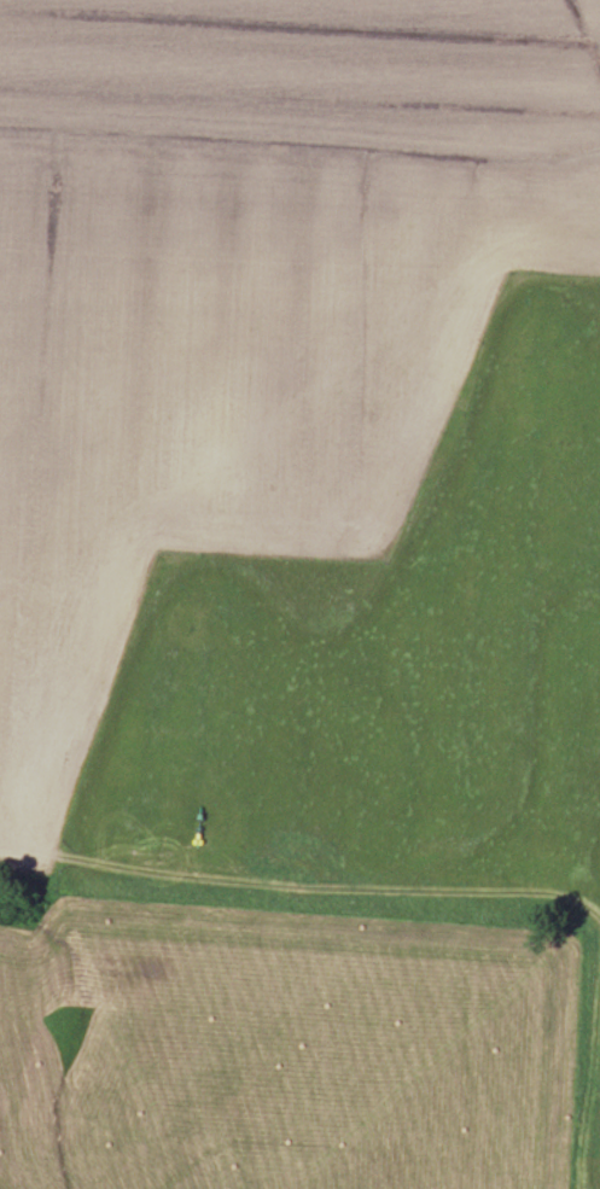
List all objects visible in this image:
crop: (247, 298)

